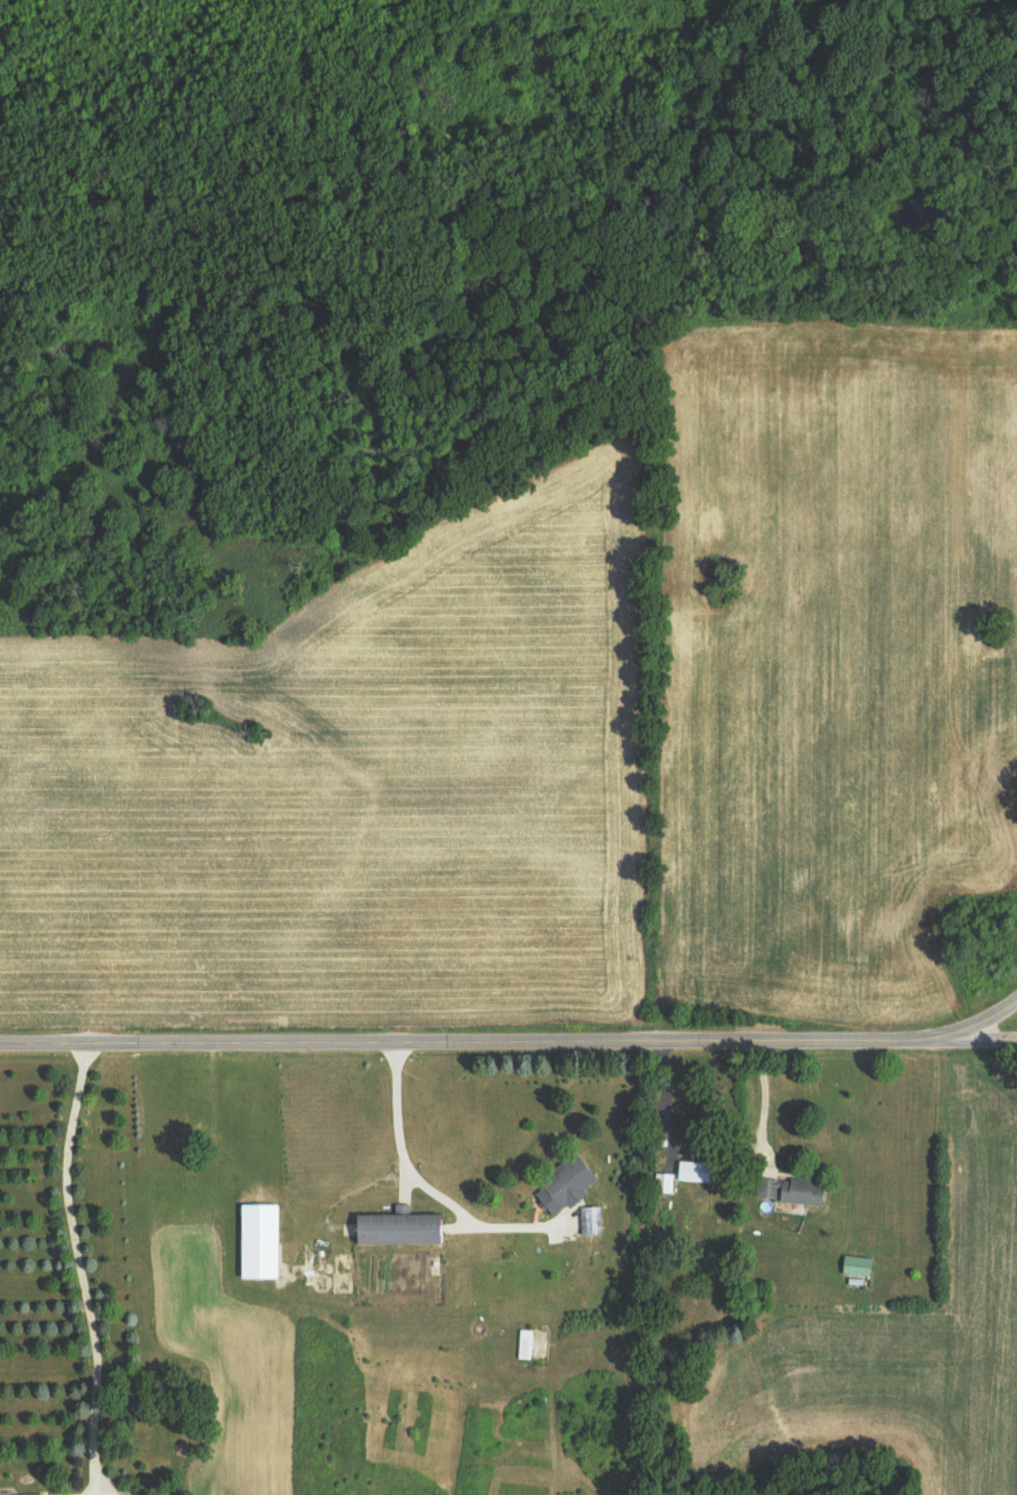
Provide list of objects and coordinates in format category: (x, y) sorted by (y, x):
road: (946, 1038)
road: (508, 1047)
building: (698, 1171)
building: (569, 1185)
building: (793, 1190)
building: (592, 1220)
building: (404, 1227)
building: (264, 1241)
building: (860, 1265)
building: (8, 1491)

